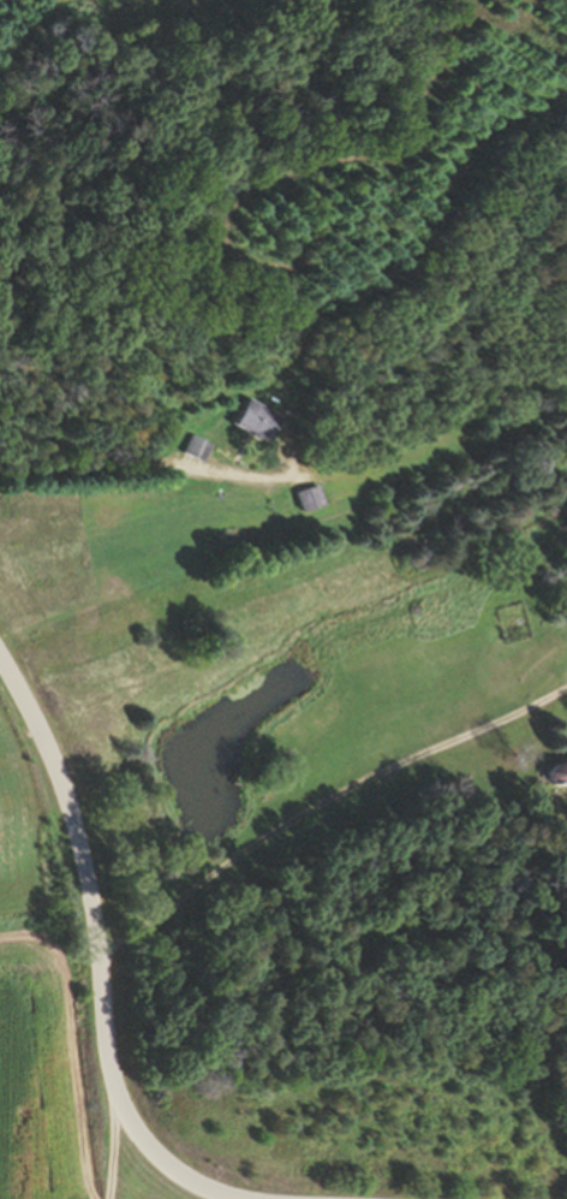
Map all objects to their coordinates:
building: (251, 420)
building: (196, 447)
road: (129, 465)
building: (308, 498)
building: (554, 772)
road: (323, 802)
road: (101, 960)
road: (115, 1138)

